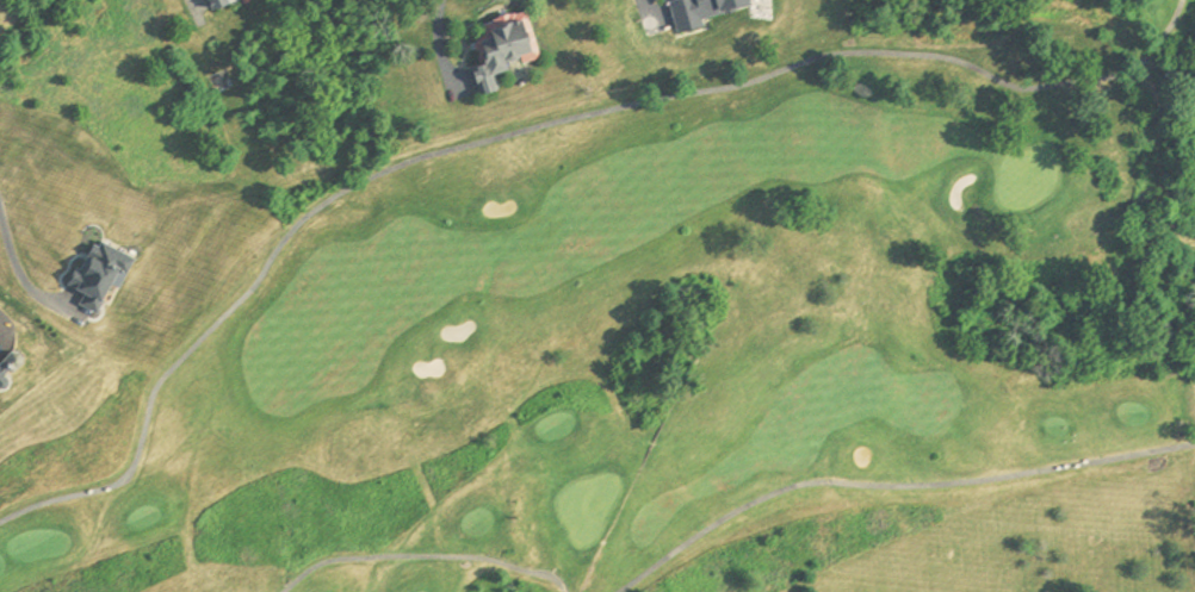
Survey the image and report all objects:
road: (645, 1)
building: (213, 2)
road: (441, 36)
building: (501, 46)
road: (12, 254)
park: (655, 325)

